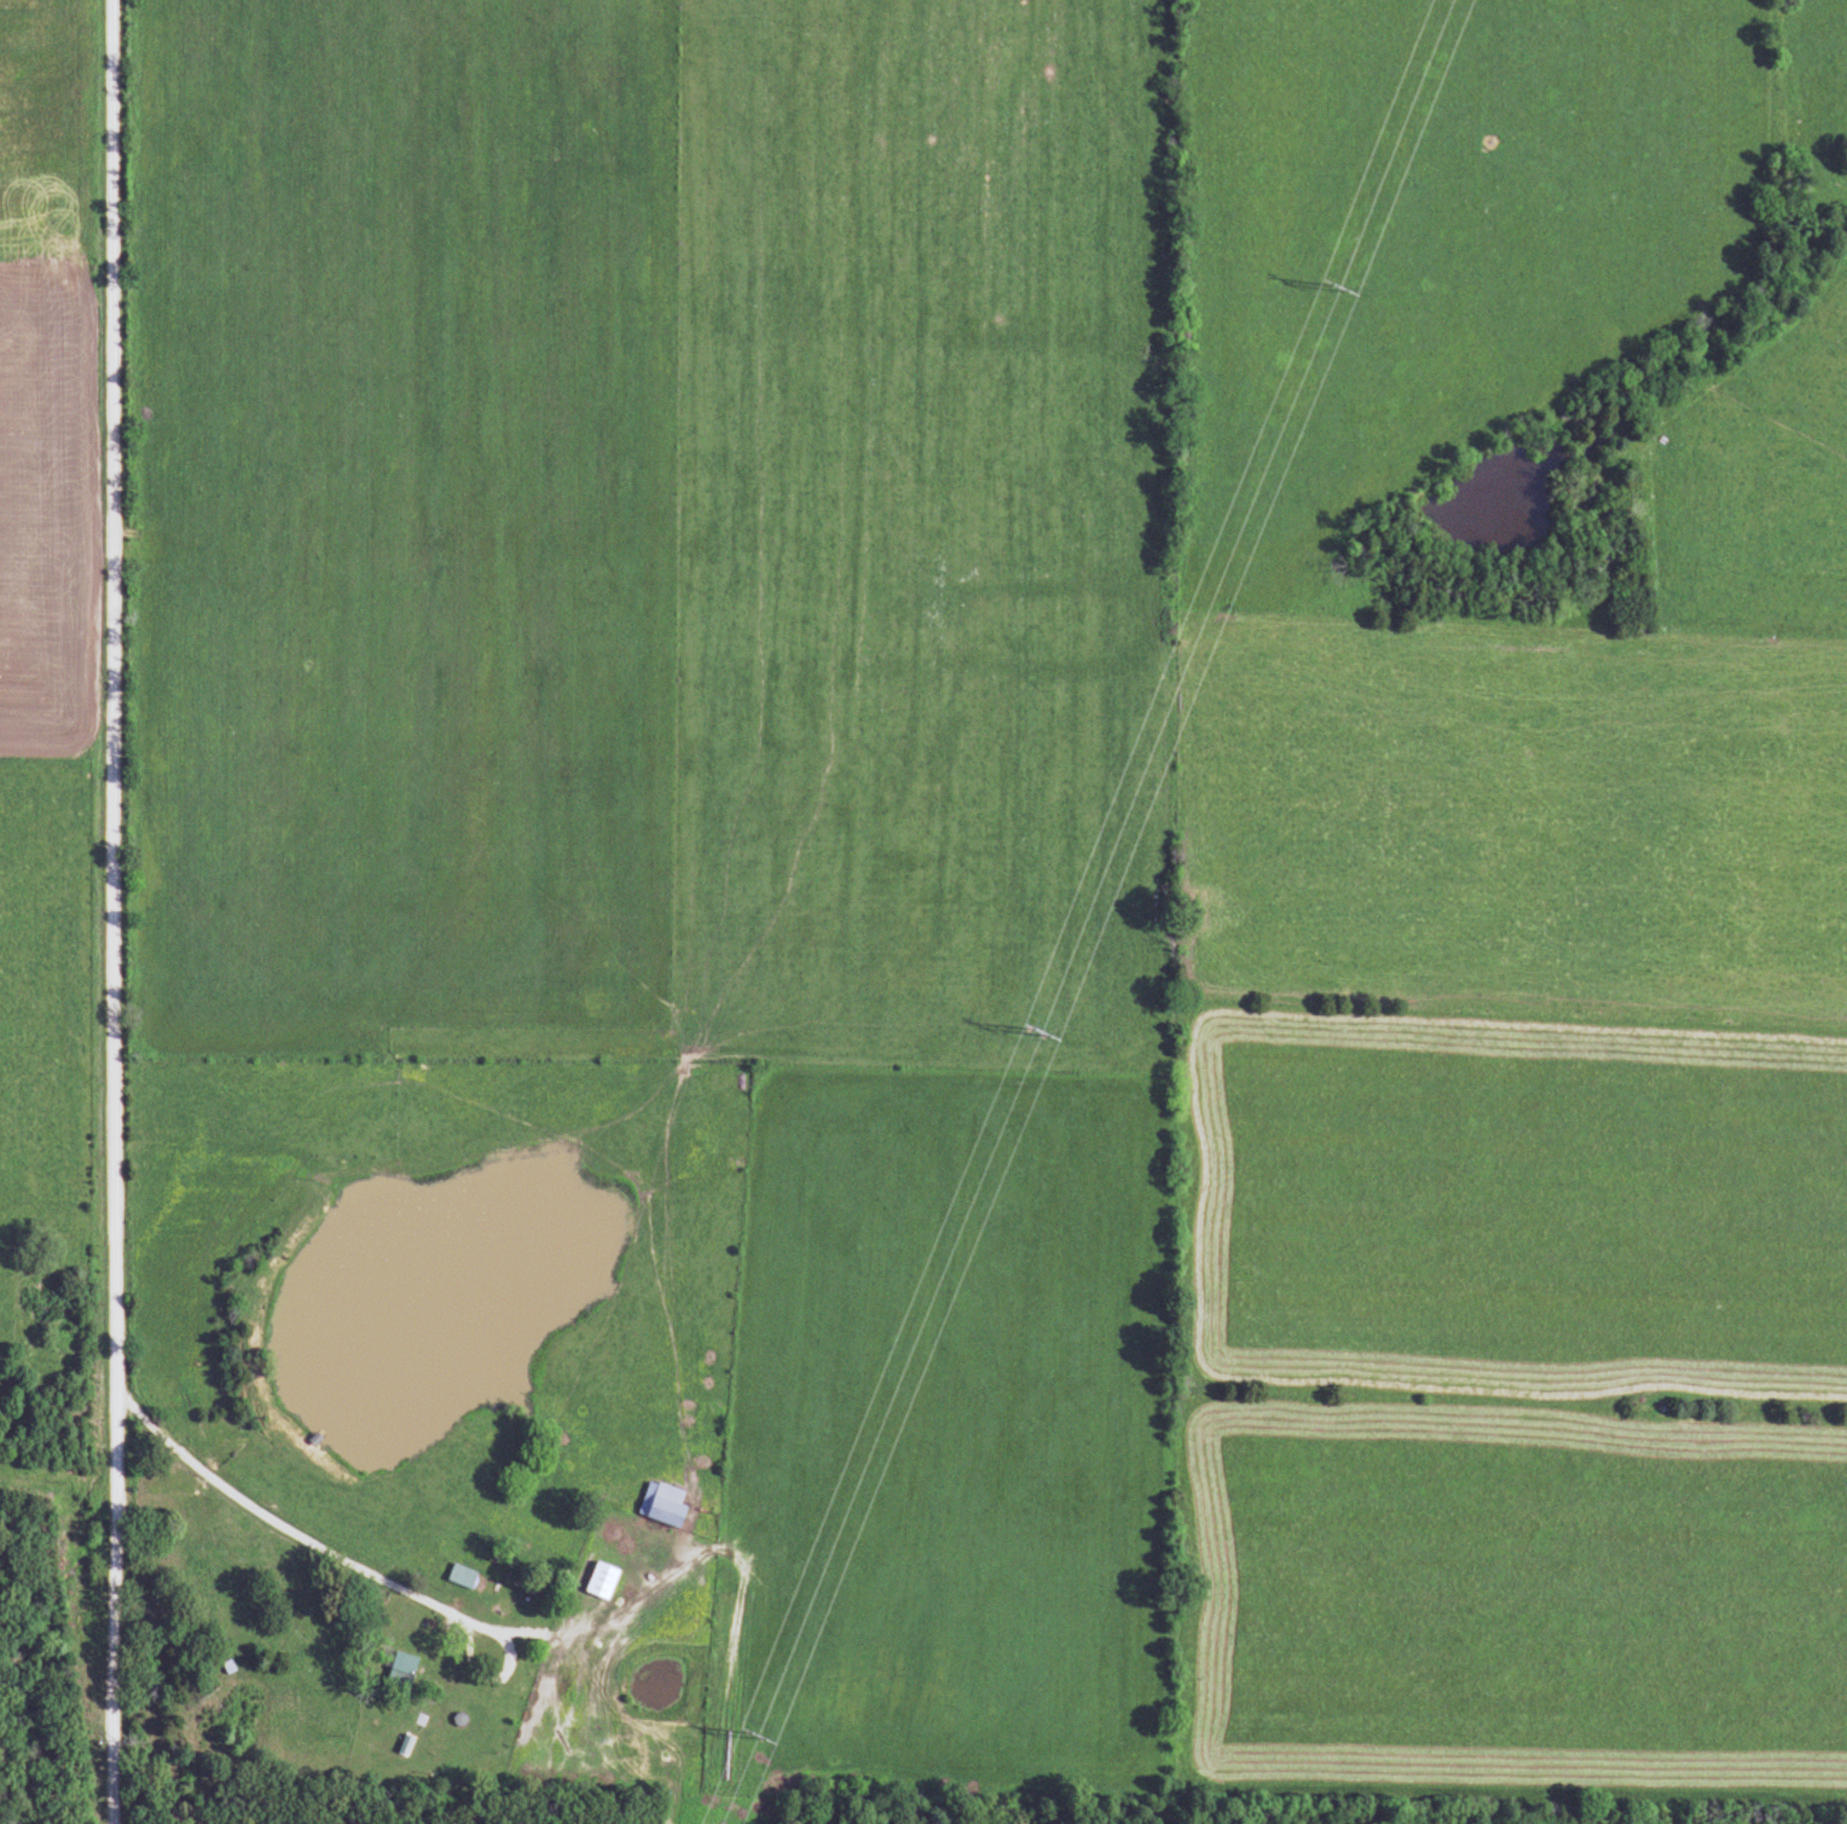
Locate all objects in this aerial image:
power tower: (1330, 285)
road: (114, 911)
power tower: (1032, 1026)
building: (659, 1505)
road: (299, 1538)
building: (457, 1576)
building: (597, 1582)
building: (225, 1668)
building: (396, 1674)
power tower: (751, 1730)

